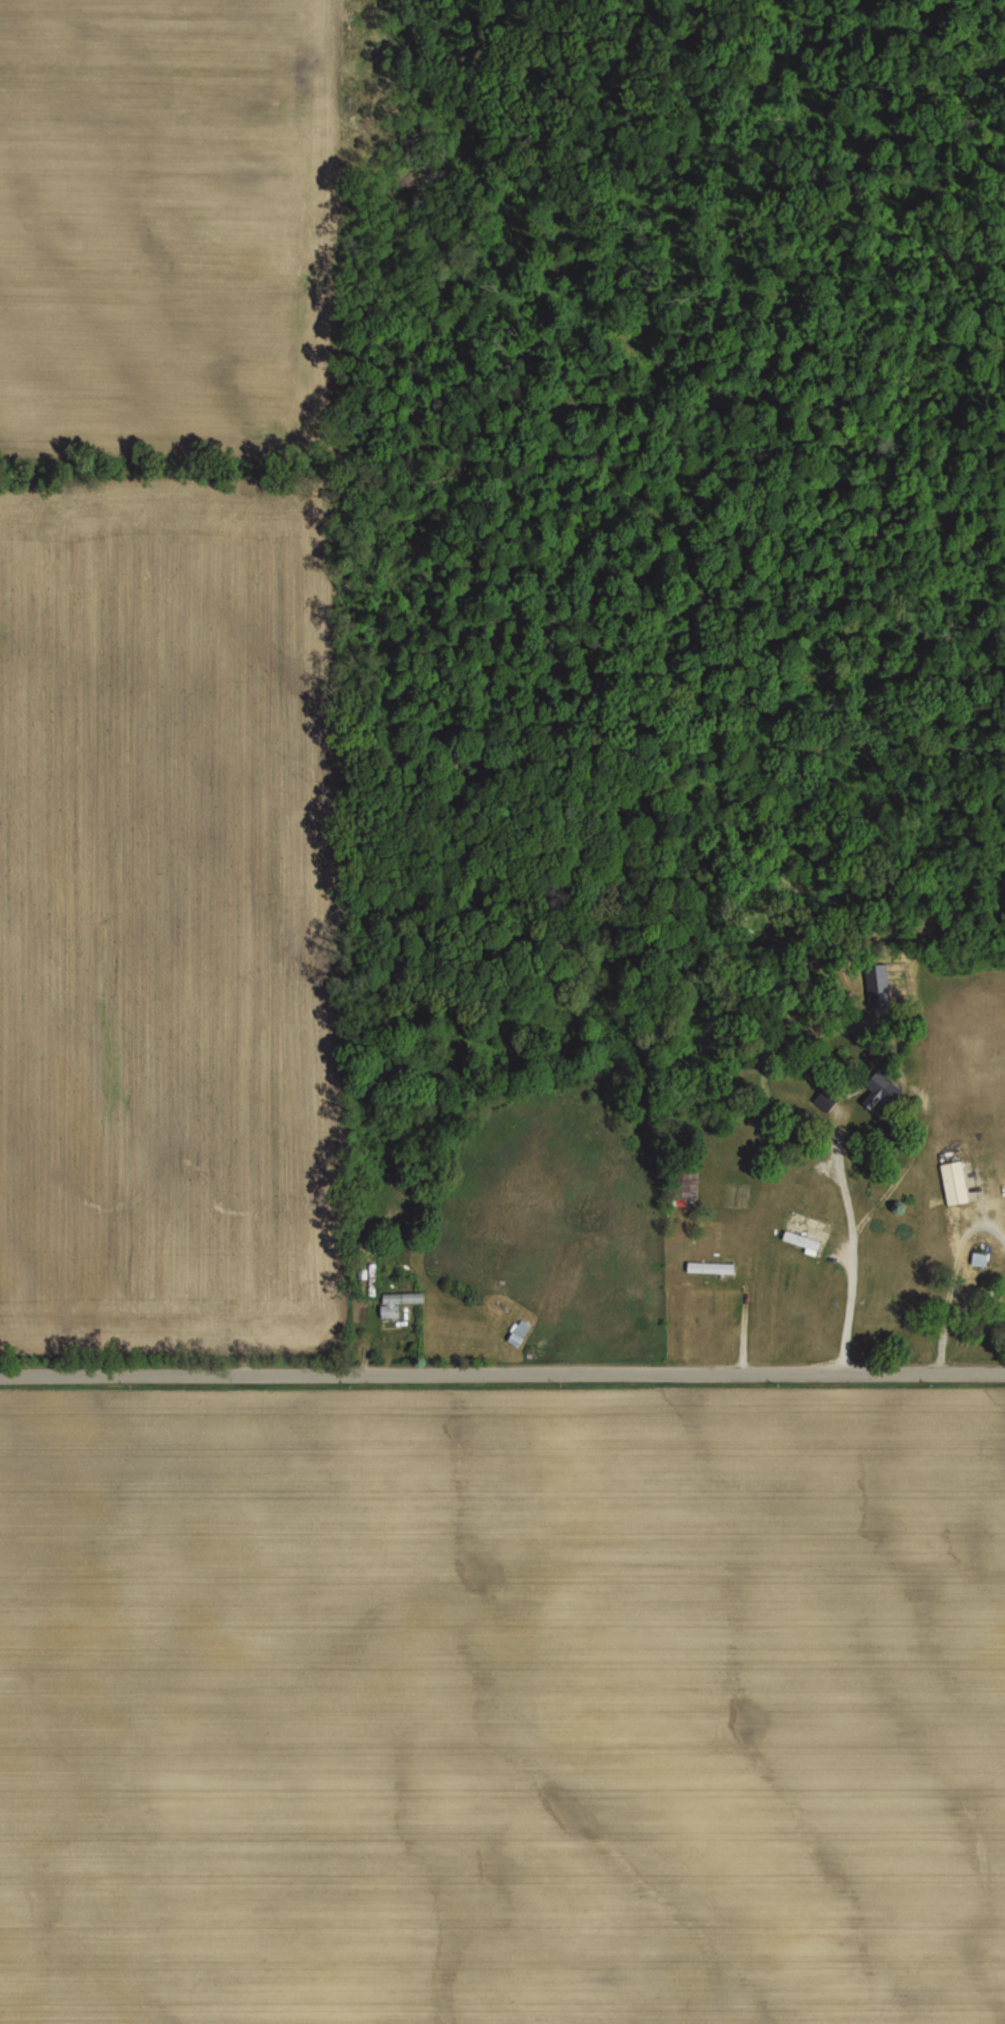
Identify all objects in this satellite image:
crop: (167, 917)
building: (872, 1092)
building: (820, 1099)
building: (678, 1182)
building: (955, 1183)
road: (983, 1217)
building: (803, 1240)
building: (981, 1258)
road: (852, 1263)
building: (711, 1267)
building: (369, 1270)
road: (950, 1288)
building: (402, 1297)
building: (390, 1312)
road: (746, 1321)
building: (521, 1330)
road: (1004, 1349)
road: (502, 1374)

